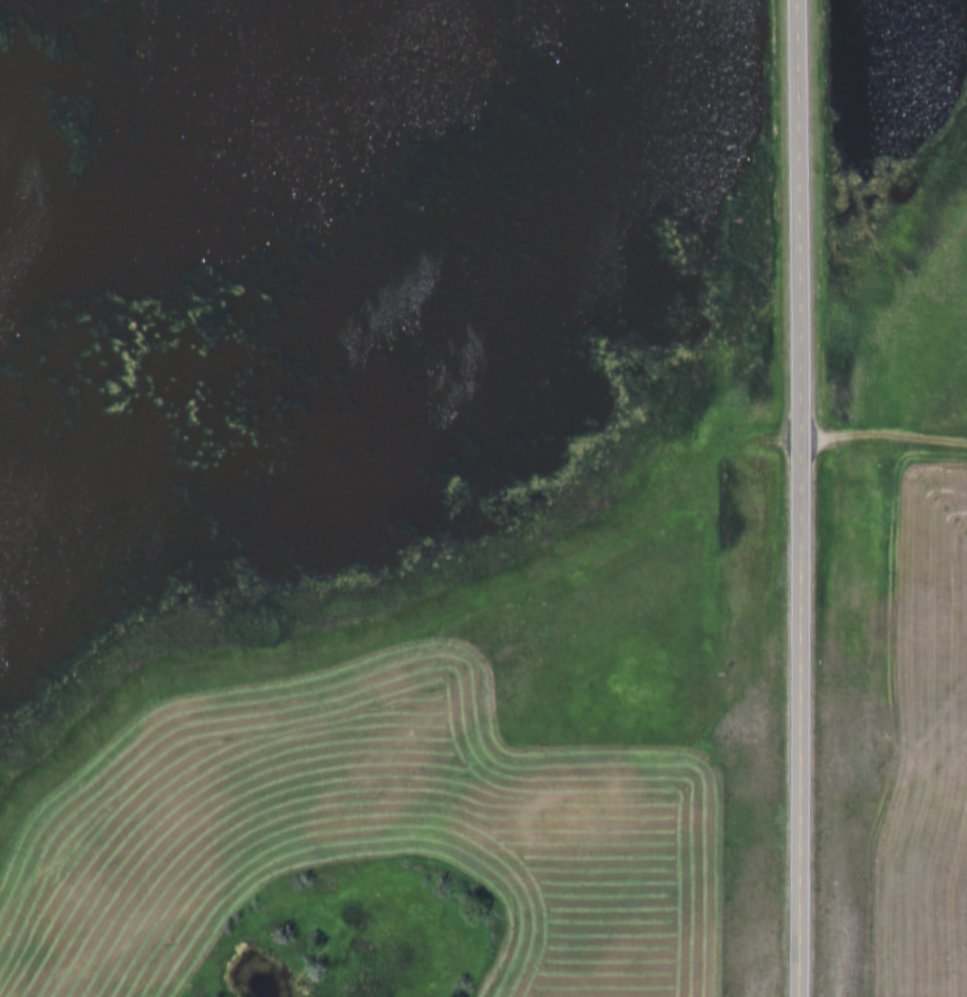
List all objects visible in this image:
road: (802, 195)
road: (885, 433)
road: (803, 694)

